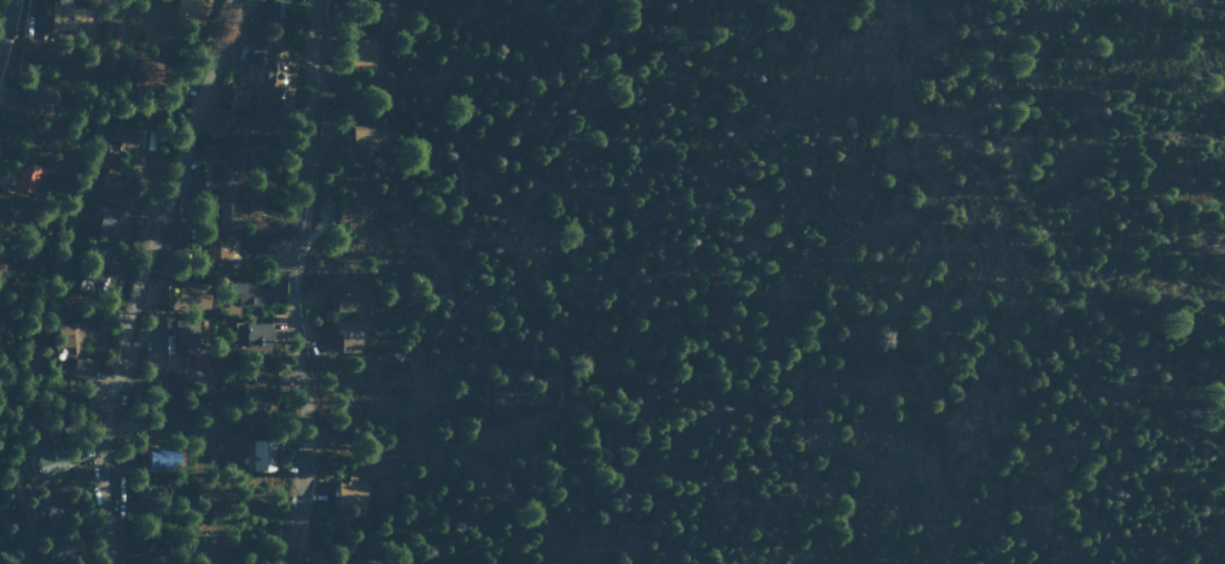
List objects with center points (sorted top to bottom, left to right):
building: (187, 8)
building: (66, 16)
road: (5, 27)
building: (363, 51)
building: (145, 72)
building: (273, 75)
building: (35, 95)
building: (123, 134)
building: (363, 135)
building: (222, 174)
building: (29, 175)
building: (224, 212)
road: (1028, 212)
building: (352, 213)
building: (112, 224)
building: (217, 251)
building: (2, 259)
road: (141, 272)
road: (298, 281)
building: (249, 292)
building: (346, 294)
building: (193, 295)
building: (257, 333)
building: (188, 334)
building: (350, 334)
building: (69, 336)
building: (82, 368)
building: (169, 413)
building: (262, 454)
building: (163, 458)
building: (51, 460)
building: (157, 489)
building: (352, 493)
building: (49, 504)
building: (62, 546)
building: (363, 554)
building: (157, 559)

